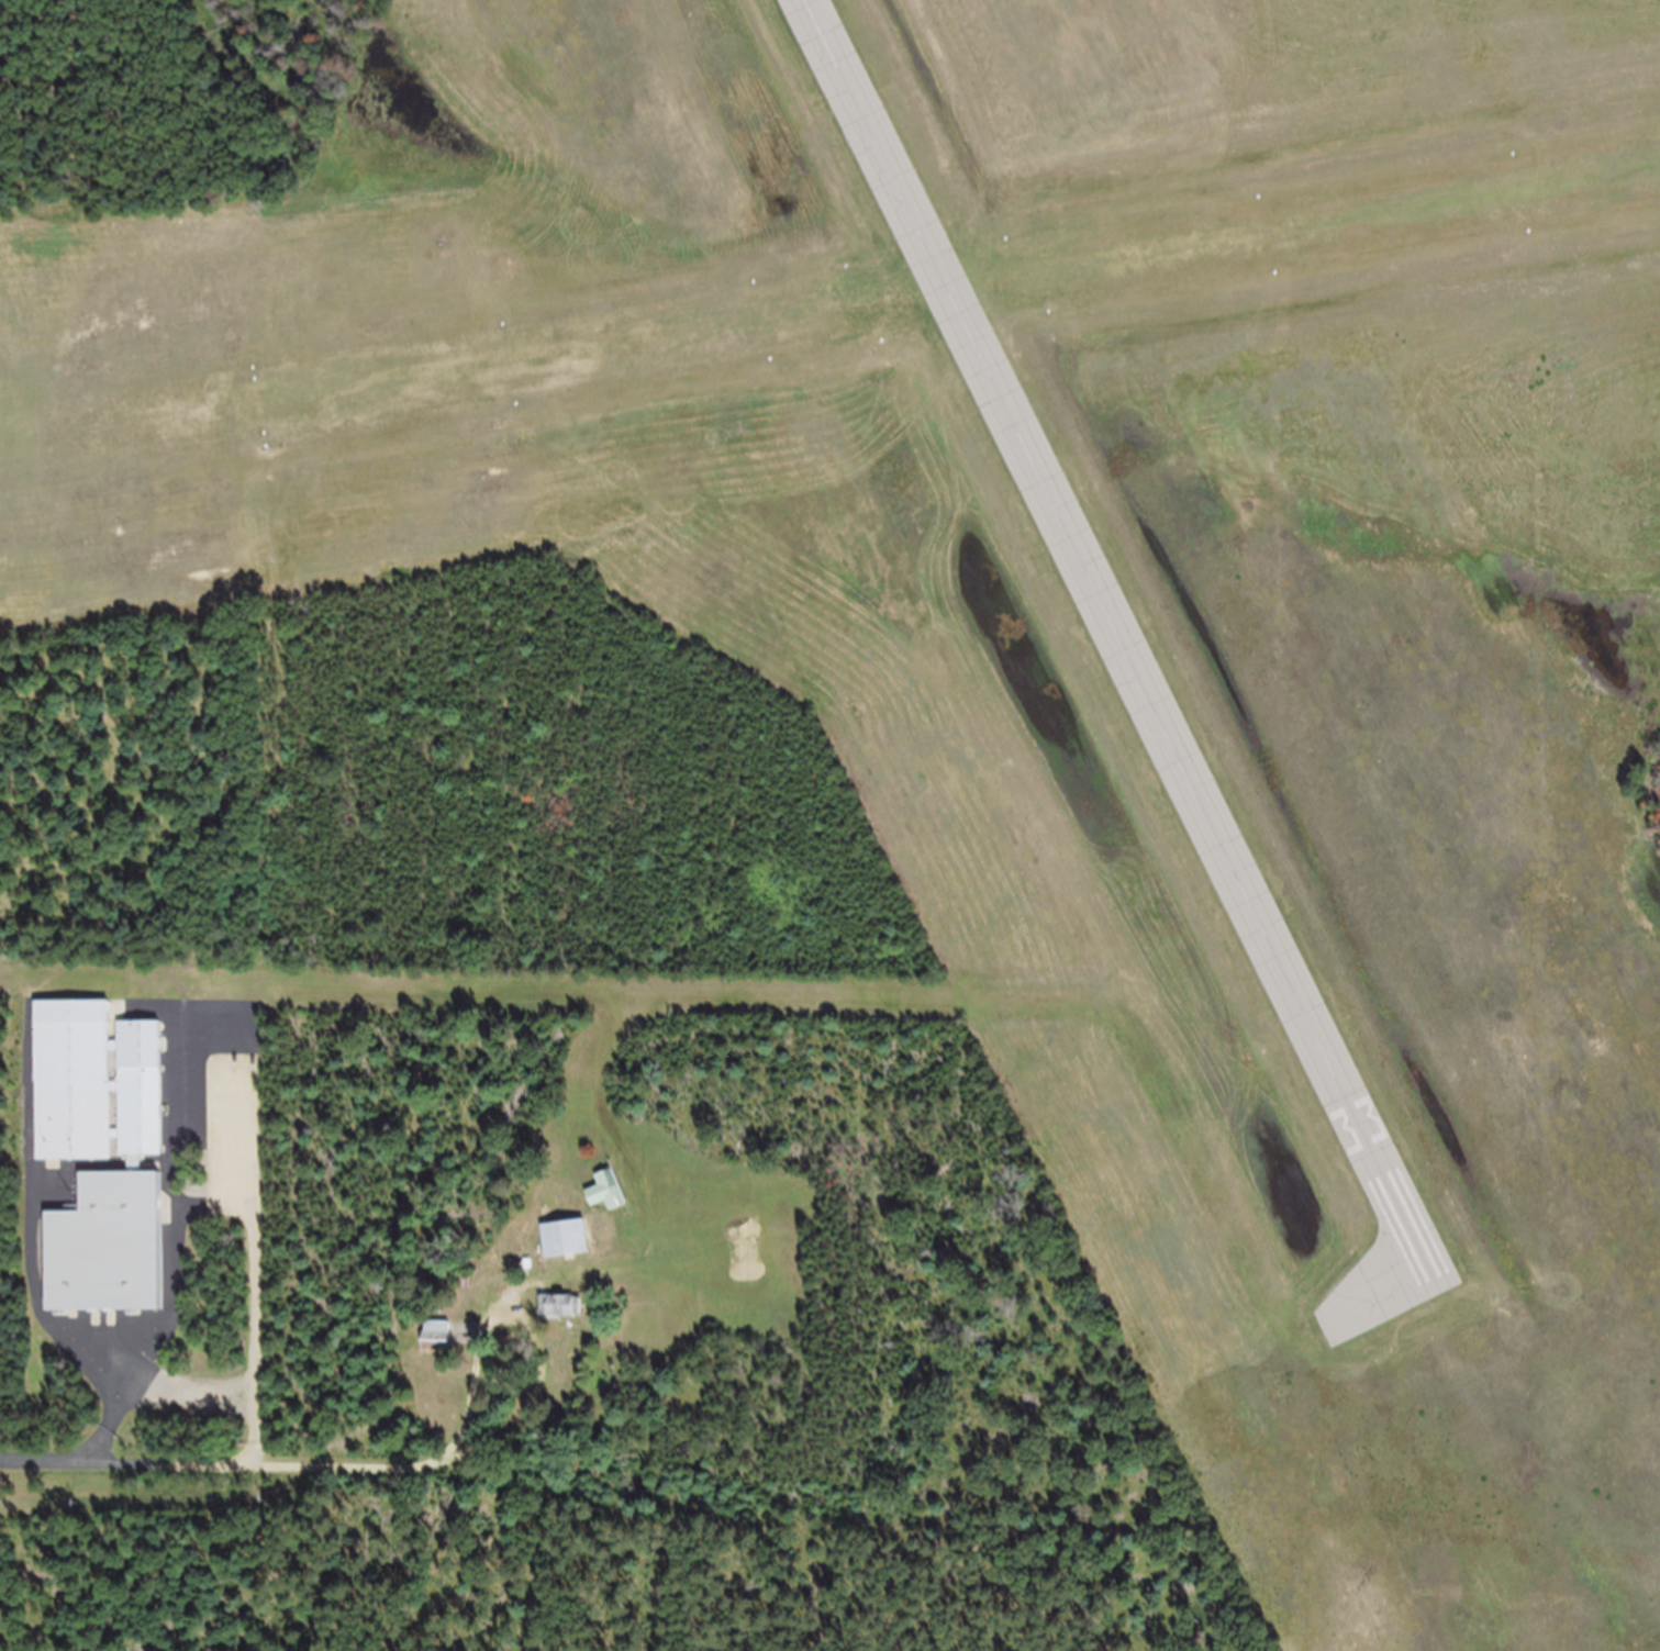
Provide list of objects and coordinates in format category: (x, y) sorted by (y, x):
airport runway: (829, 316)
airport: (931, 636)
airport runway: (1122, 636)
building: (97, 1095)
building: (604, 1202)
building: (564, 1248)
building: (107, 1257)
building: (560, 1316)
building: (436, 1342)
road: (230, 1471)

